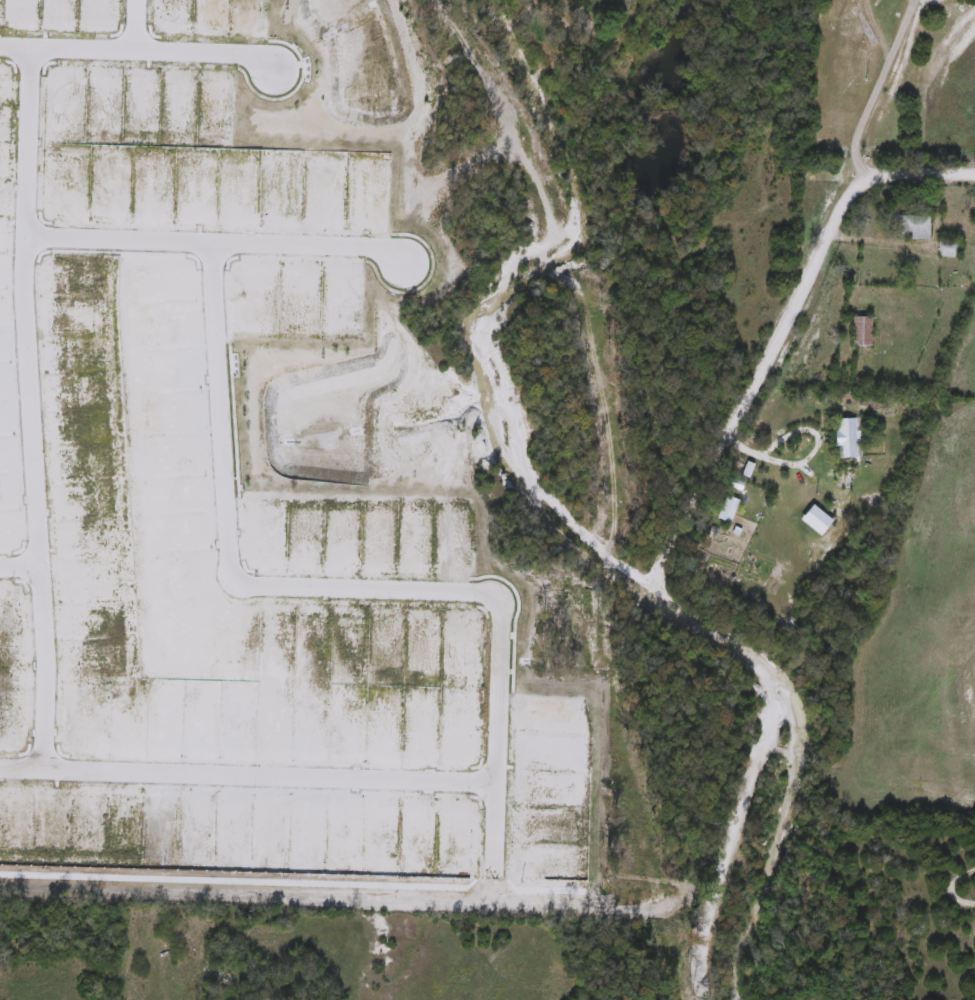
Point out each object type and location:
building: (591, 7)
road: (136, 26)
road: (138, 53)
road: (878, 90)
building: (912, 229)
road: (874, 242)
road: (215, 246)
building: (945, 250)
building: (859, 332)
road: (29, 411)
building: (841, 439)
road: (769, 456)
road: (661, 537)
road: (18, 566)
road: (332, 591)
road: (248, 780)

